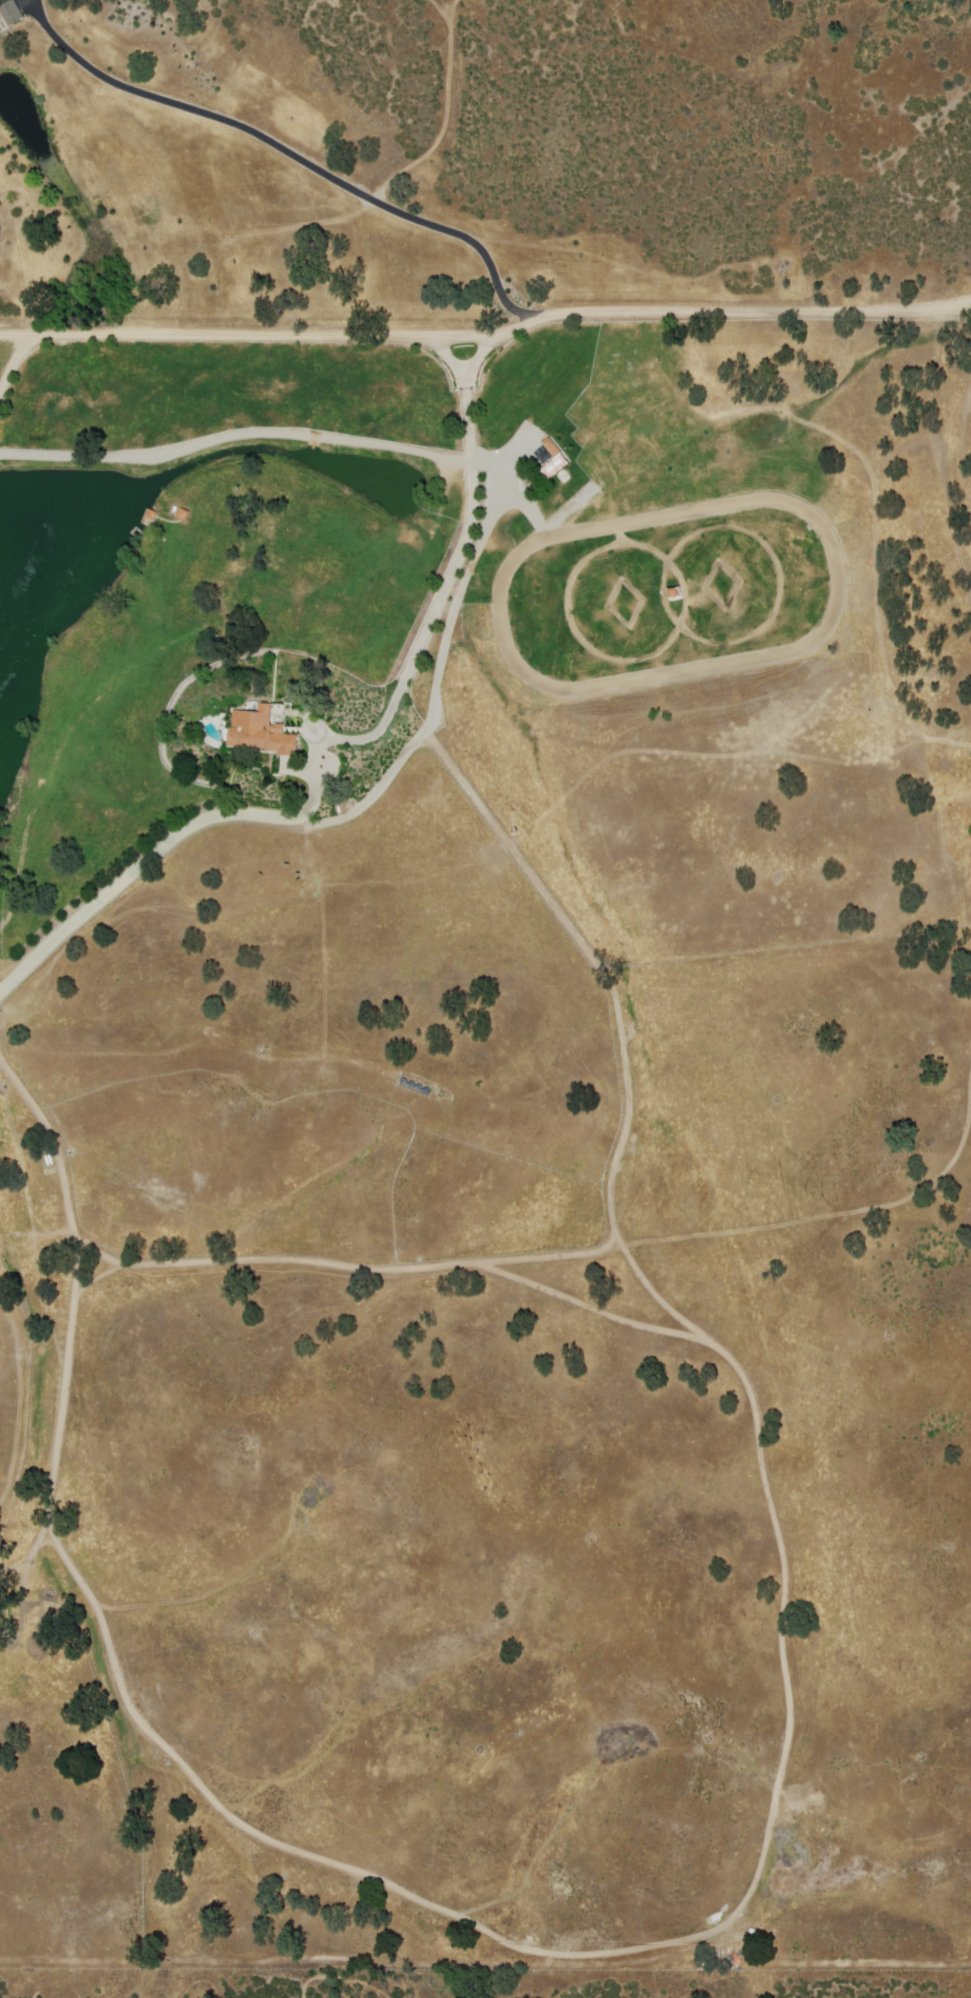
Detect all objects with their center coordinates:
building: (12, 12)
road: (296, 158)
road: (487, 339)
road: (15, 369)
building: (554, 466)
building: (184, 514)
raceway: (566, 514)
building: (152, 515)
road: (453, 571)
road: (776, 573)
road: (734, 583)
road: (679, 591)
building: (670, 593)
road: (637, 602)
raceway: (798, 652)
road: (413, 712)
building: (263, 732)
road: (605, 977)
road: (440, 1907)

